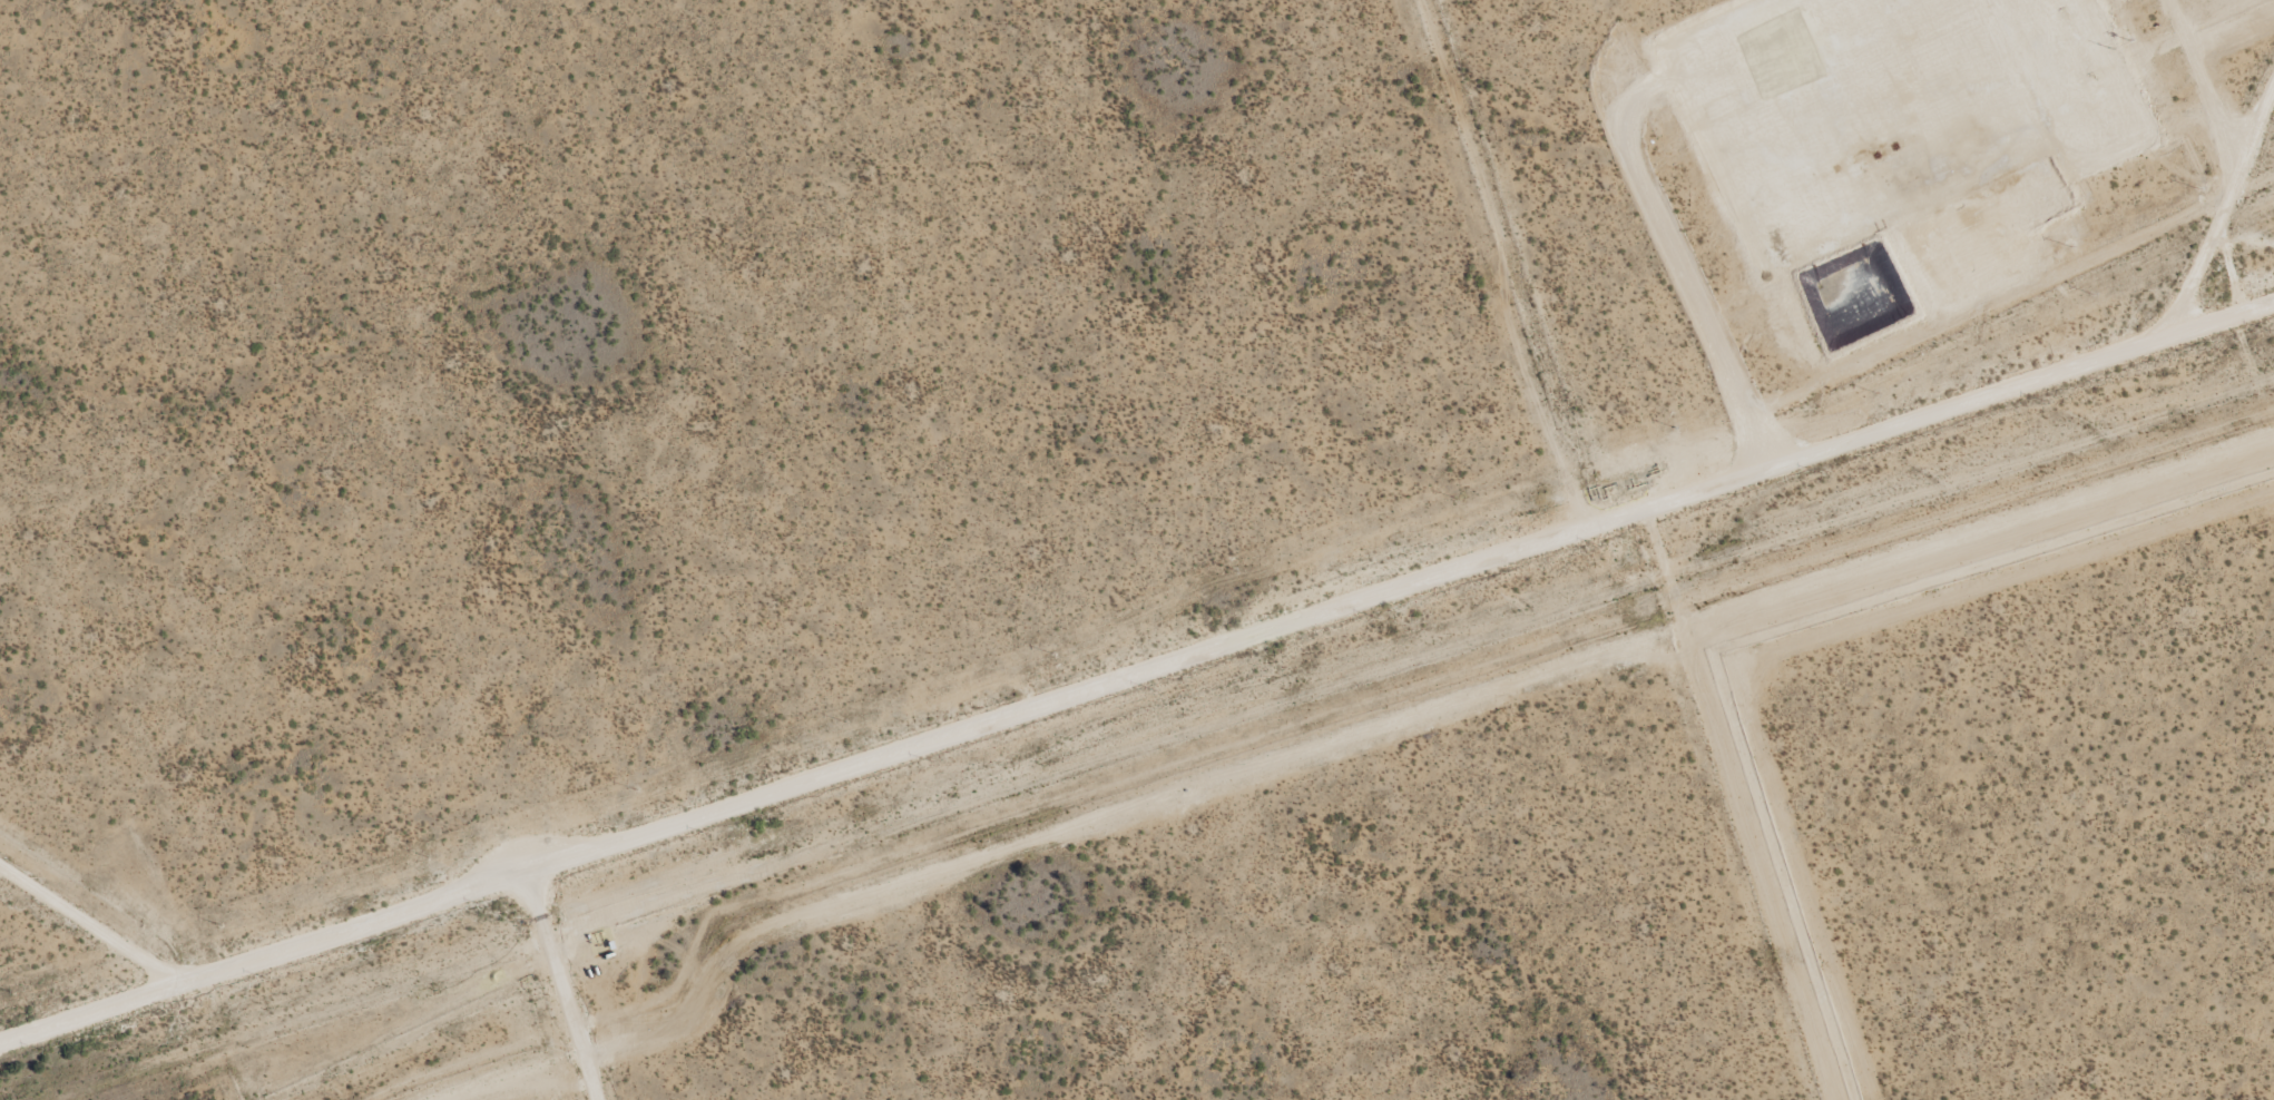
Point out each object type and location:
road: (2206, 230)
road: (2212, 233)
road: (1134, 704)
road: (117, 940)
road: (562, 1006)

